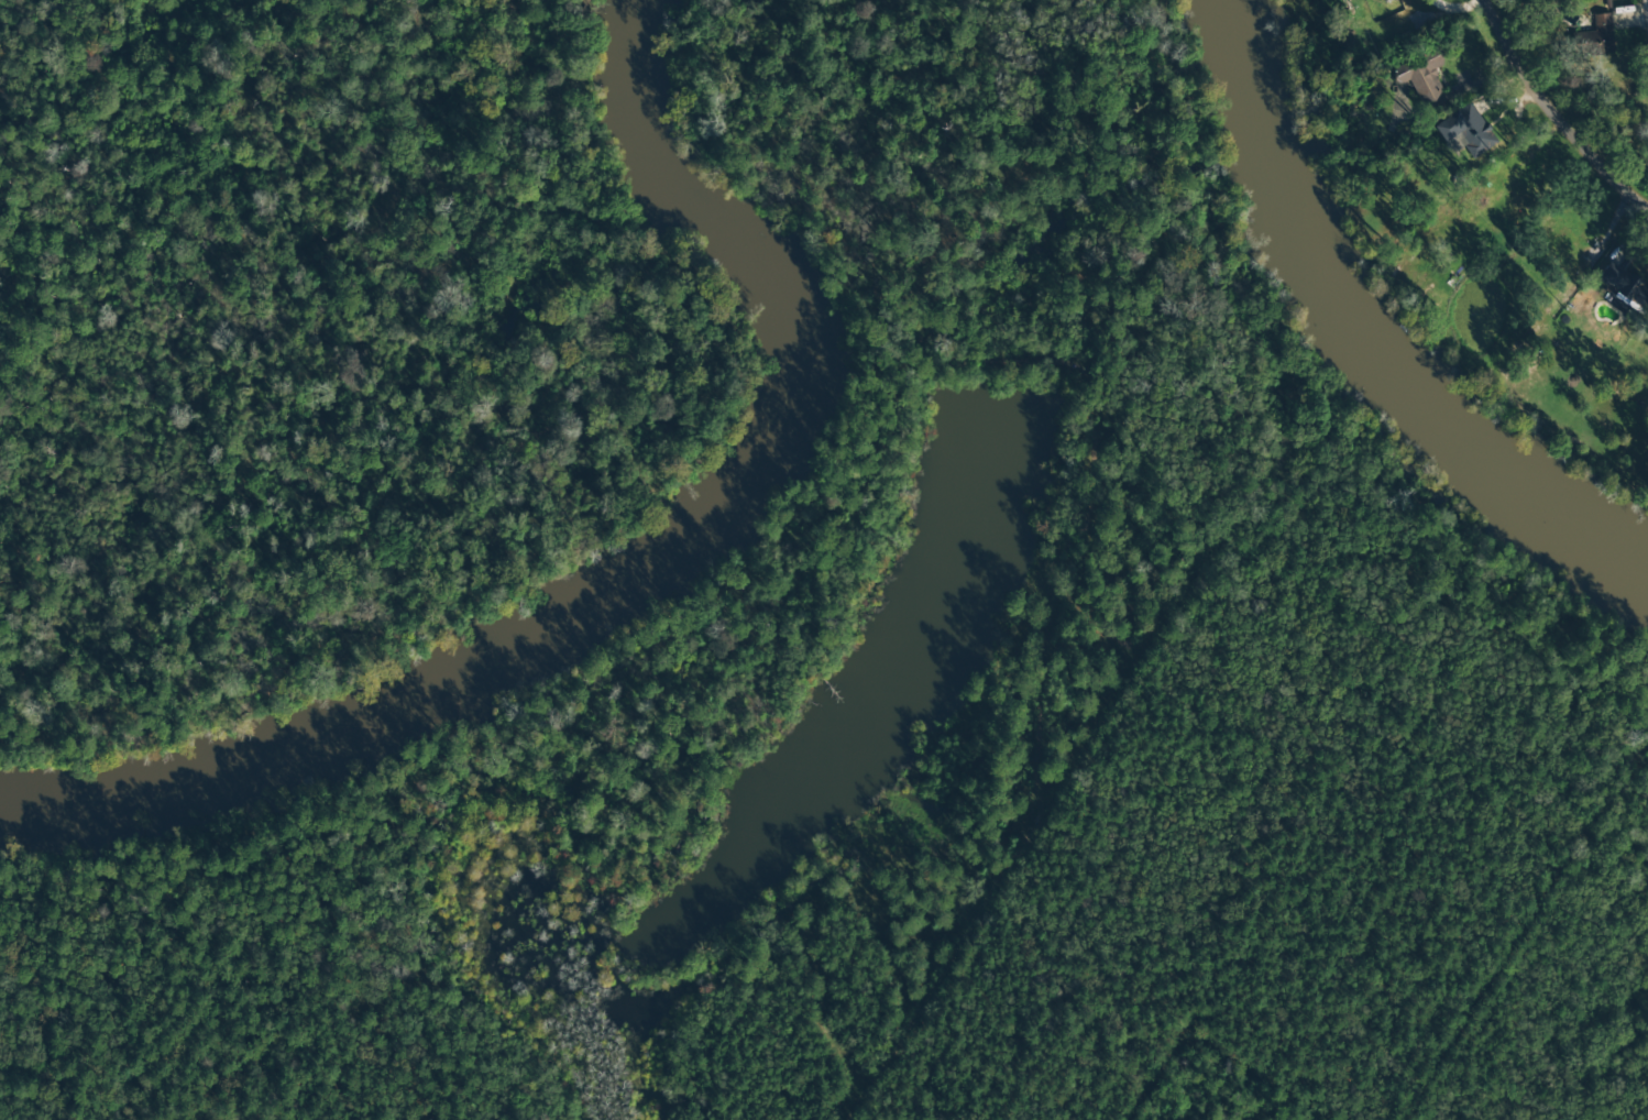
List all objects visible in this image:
building: (1385, 1)
road: (1645, 17)
building: (1596, 35)
building: (1419, 75)
road: (1547, 116)
building: (1466, 130)
building: (1626, 287)
river: (1359, 336)
river: (639, 562)

